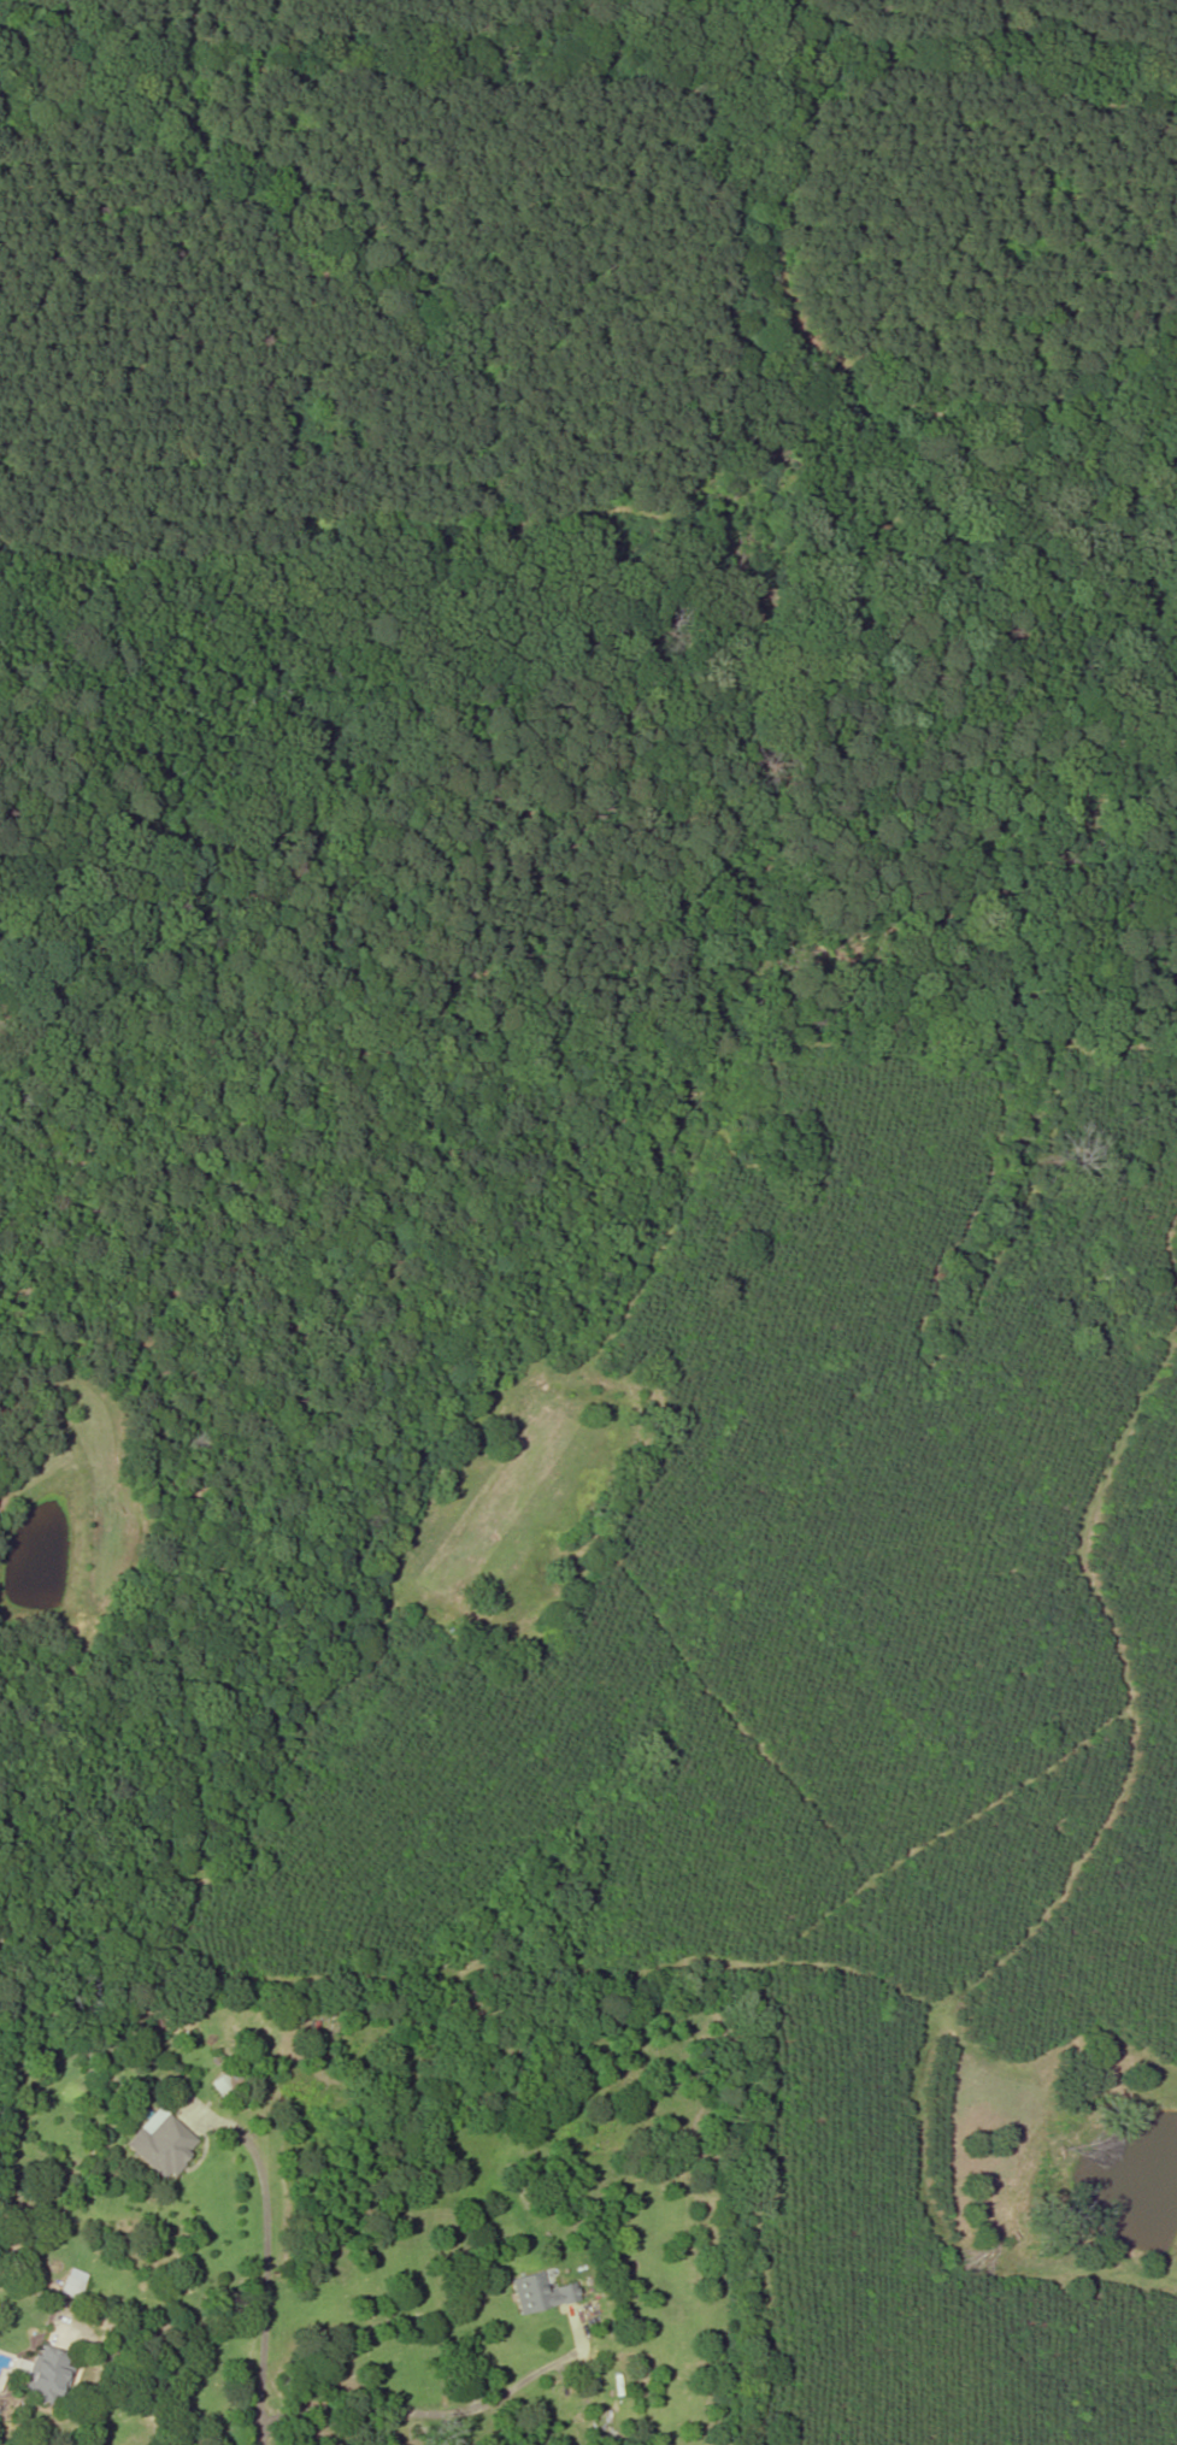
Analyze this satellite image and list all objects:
building: (225, 2081)
building: (163, 2145)
road: (264, 2257)
building: (71, 2286)
building: (541, 2292)
building: (45, 2374)
road: (147, 2380)

